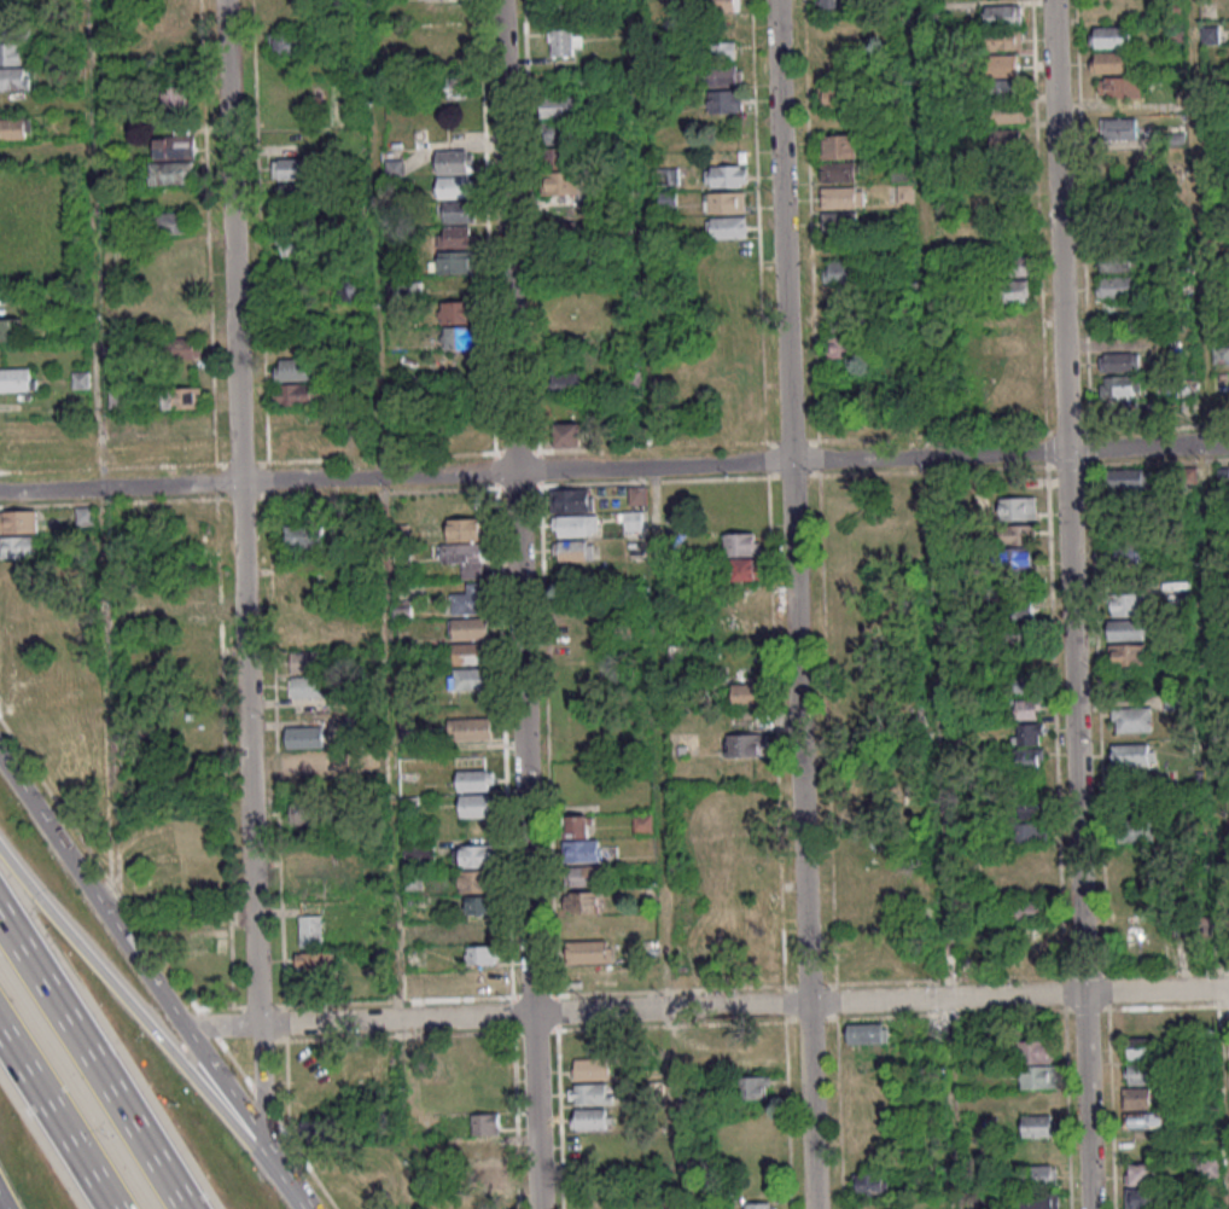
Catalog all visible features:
building: (833, 4)
building: (718, 5)
building: (559, 7)
building: (1003, 14)
building: (1109, 36)
building: (1003, 39)
building: (565, 41)
building: (287, 42)
building: (173, 46)
building: (722, 50)
building: (12, 57)
building: (1108, 62)
building: (1001, 65)
building: (724, 75)
building: (1119, 87)
building: (1003, 88)
building: (176, 97)
building: (833, 97)
building: (726, 100)
building: (560, 106)
building: (1006, 112)
building: (14, 128)
building: (1119, 128)
building: (559, 133)
building: (1006, 140)
building: (838, 146)
building: (557, 157)
building: (173, 159)
building: (454, 161)
building: (291, 168)
building: (394, 168)
building: (838, 172)
building: (665, 175)
building: (726, 175)
building: (560, 182)
building: (454, 186)
building: (295, 196)
building: (843, 196)
building: (724, 202)
building: (459, 211)
building: (839, 219)
building: (171, 222)
road: (1059, 225)
building: (727, 227)
park: (43, 228)
road: (782, 231)
building: (560, 233)
road: (506, 236)
building: (455, 237)
road: (231, 242)
building: (293, 242)
building: (456, 262)
building: (1117, 262)
building: (840, 272)
building: (1116, 286)
building: (351, 290)
building: (1017, 291)
building: (456, 312)
building: (11, 330)
building: (458, 337)
building: (181, 347)
building: (841, 347)
building: (1119, 361)
building: (293, 368)
building: (16, 378)
building: (80, 379)
building: (566, 383)
building: (1119, 386)
building: (295, 394)
building: (181, 397)
building: (567, 434)
building: (297, 444)
road: (1147, 447)
road: (927, 457)
road: (101, 461)
road: (651, 466)
road: (375, 476)
building: (1129, 479)
road: (120, 487)
building: (637, 494)
building: (571, 499)
road: (373, 508)
building: (1017, 508)
building: (18, 521)
building: (634, 521)
building: (575, 524)
building: (466, 529)
building: (1017, 534)
building: (305, 535)
building: (18, 546)
building: (572, 550)
building: (742, 553)
building: (1125, 554)
building: (465, 558)
building: (1017, 559)
building: (17, 571)
building: (19, 597)
building: (470, 599)
road: (658, 604)
road: (937, 604)
building: (1128, 604)
road: (1206, 604)
building: (1018, 606)
building: (21, 622)
building: (471, 628)
building: (1125, 629)
building: (467, 653)
building: (1126, 655)
building: (307, 661)
building: (23, 672)
building: (468, 679)
building: (1021, 684)
building: (305, 686)
building: (746, 693)
building: (27, 697)
building: (1025, 708)
building: (1131, 719)
building: (470, 728)
building: (1026, 732)
building: (304, 736)
road: (523, 743)
building: (744, 744)
building: (1132, 754)
building: (1029, 758)
building: (305, 761)
building: (473, 780)
building: (477, 804)
building: (1027, 807)
building: (307, 813)
road: (249, 819)
building: (642, 823)
road: (1077, 830)
building: (1137, 830)
building: (1029, 832)
road: (802, 835)
building: (579, 839)
building: (418, 855)
building: (473, 855)
building: (584, 874)
building: (474, 880)
building: (581, 901)
building: (478, 903)
building: (1030, 909)
building: (309, 930)
building: (477, 930)
building: (199, 941)
building: (589, 951)
building: (480, 954)
building: (756, 954)
road: (132, 955)
building: (314, 963)
building: (479, 981)
road: (127, 1002)
road: (705, 1007)
building: (866, 1033)
building: (698, 1040)
building: (1138, 1047)
building: (1035, 1051)
road: (92, 1063)
building: (592, 1068)
building: (1138, 1073)
building: (1037, 1076)
building: (318, 1080)
building: (379, 1081)
building: (752, 1087)
building: (588, 1093)
building: (1136, 1097)
road: (535, 1111)
building: (590, 1118)
road: (57, 1120)
building: (1143, 1120)
building: (485, 1123)
building: (1037, 1124)
building: (484, 1149)
building: (1207, 1168)
building: (494, 1174)
building: (1041, 1174)
building: (1141, 1174)
road: (281, 1181)
building: (872, 1184)
building: (1143, 1198)
building: (1039, 1201)
road: (2, 1203)
building: (757, 1205)

